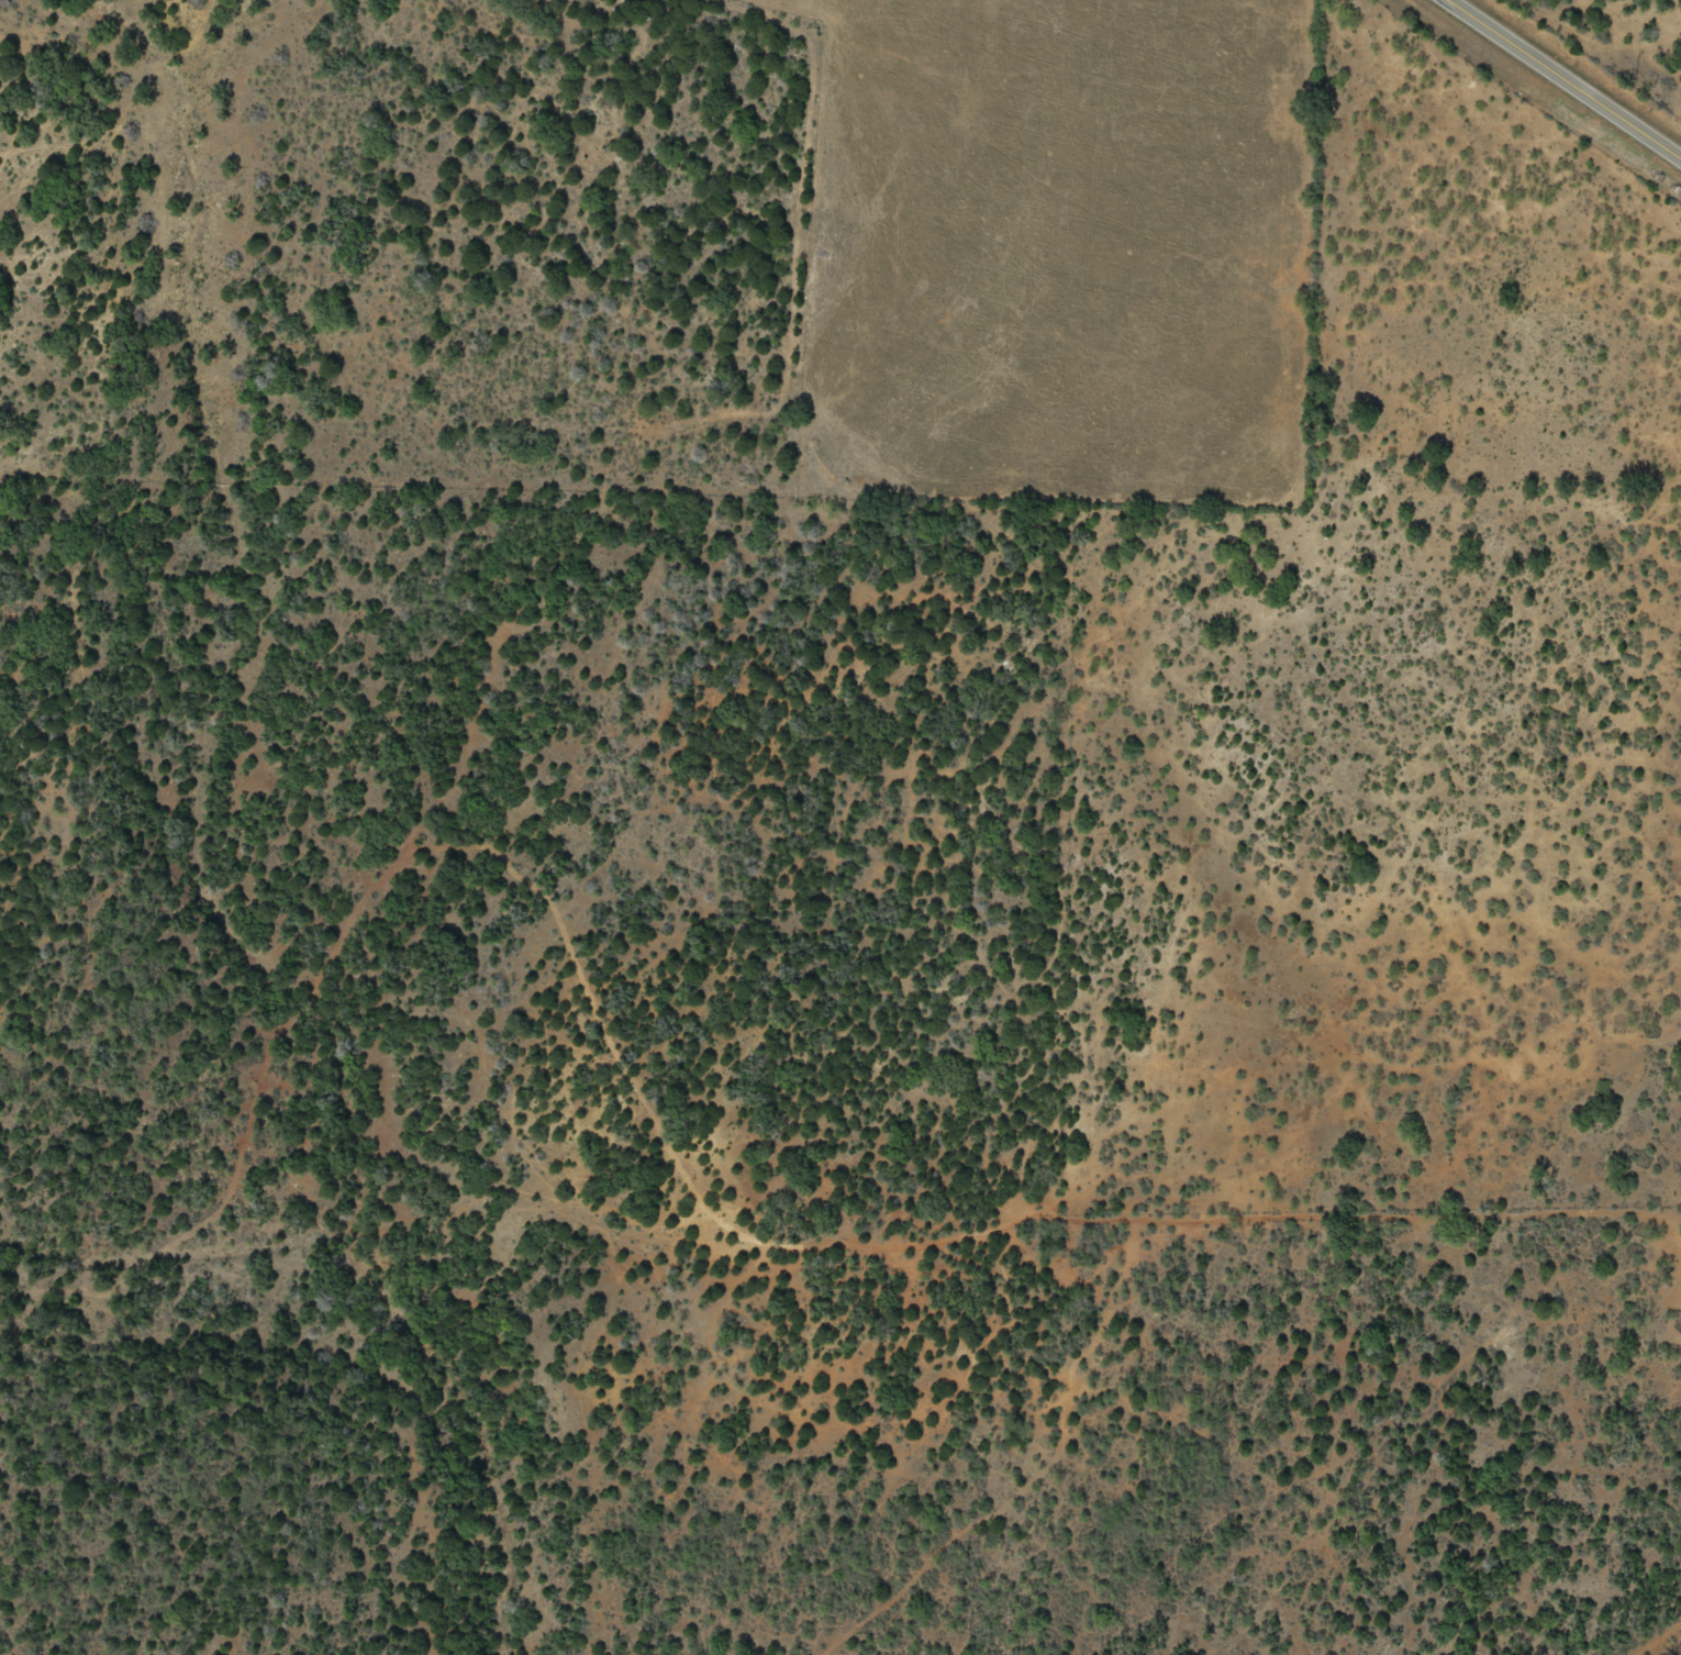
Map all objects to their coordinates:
road: (1562, 80)

